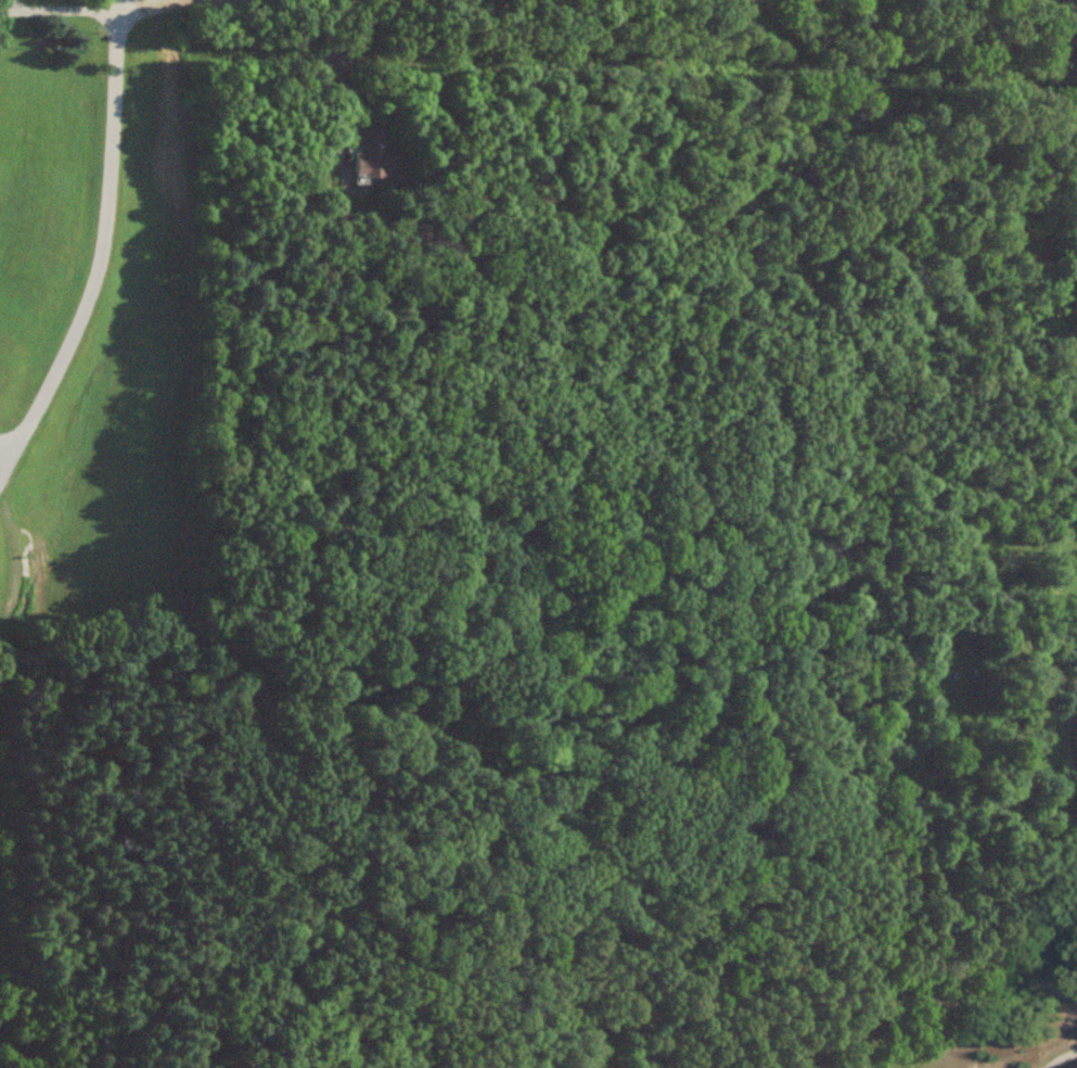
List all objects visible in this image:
road: (116, 4)
road: (332, 4)
road: (7, 5)
road: (57, 10)
building: (374, 156)
road: (100, 255)
building: (328, 616)
building: (1076, 639)
road: (1060, 1057)

